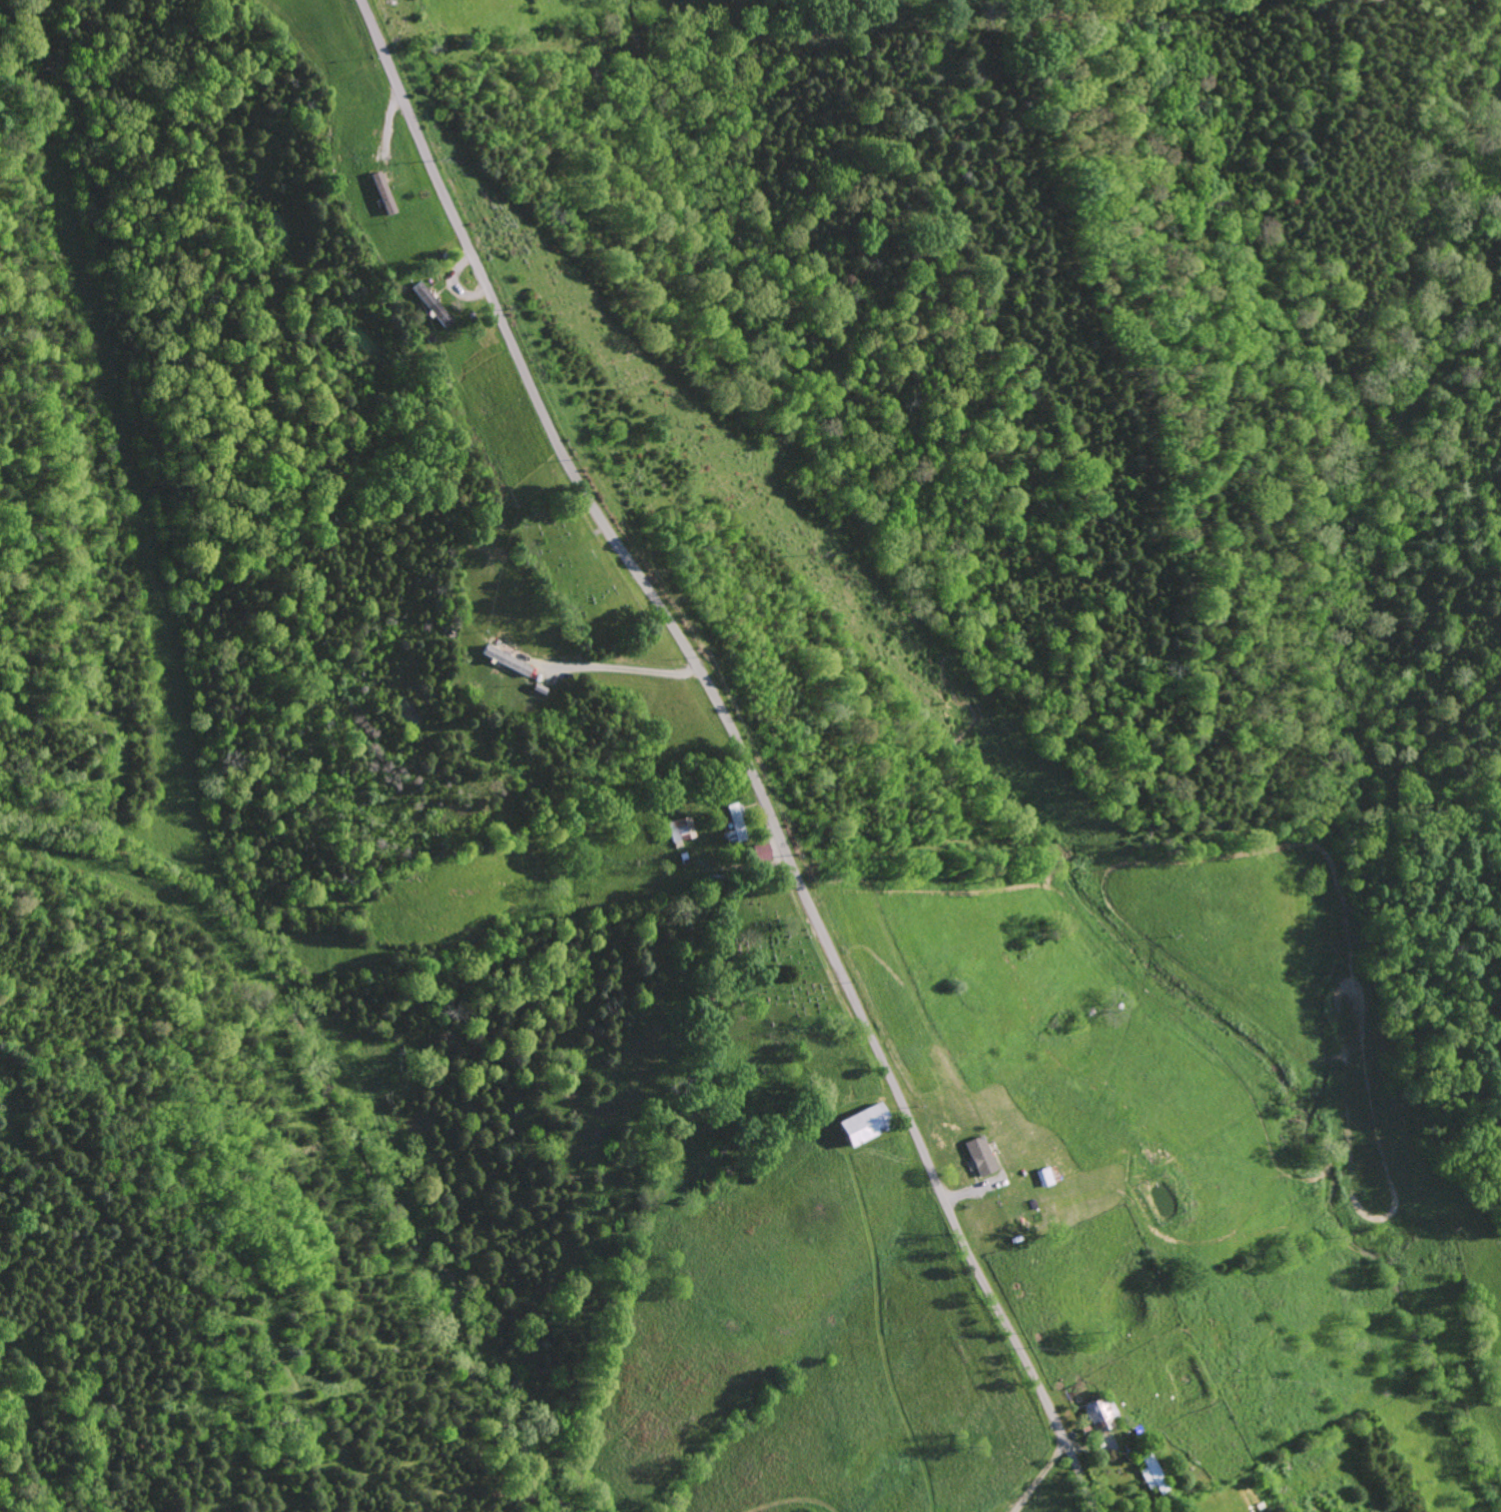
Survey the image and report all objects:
building: (383, 194)
building: (437, 313)
park: (576, 575)
road: (564, 672)
road: (738, 750)
building: (734, 825)
building: (680, 830)
building: (759, 852)
park: (759, 971)
building: (864, 1125)
building: (978, 1156)
building: (1044, 1176)
building: (1098, 1414)
building: (1150, 1474)

